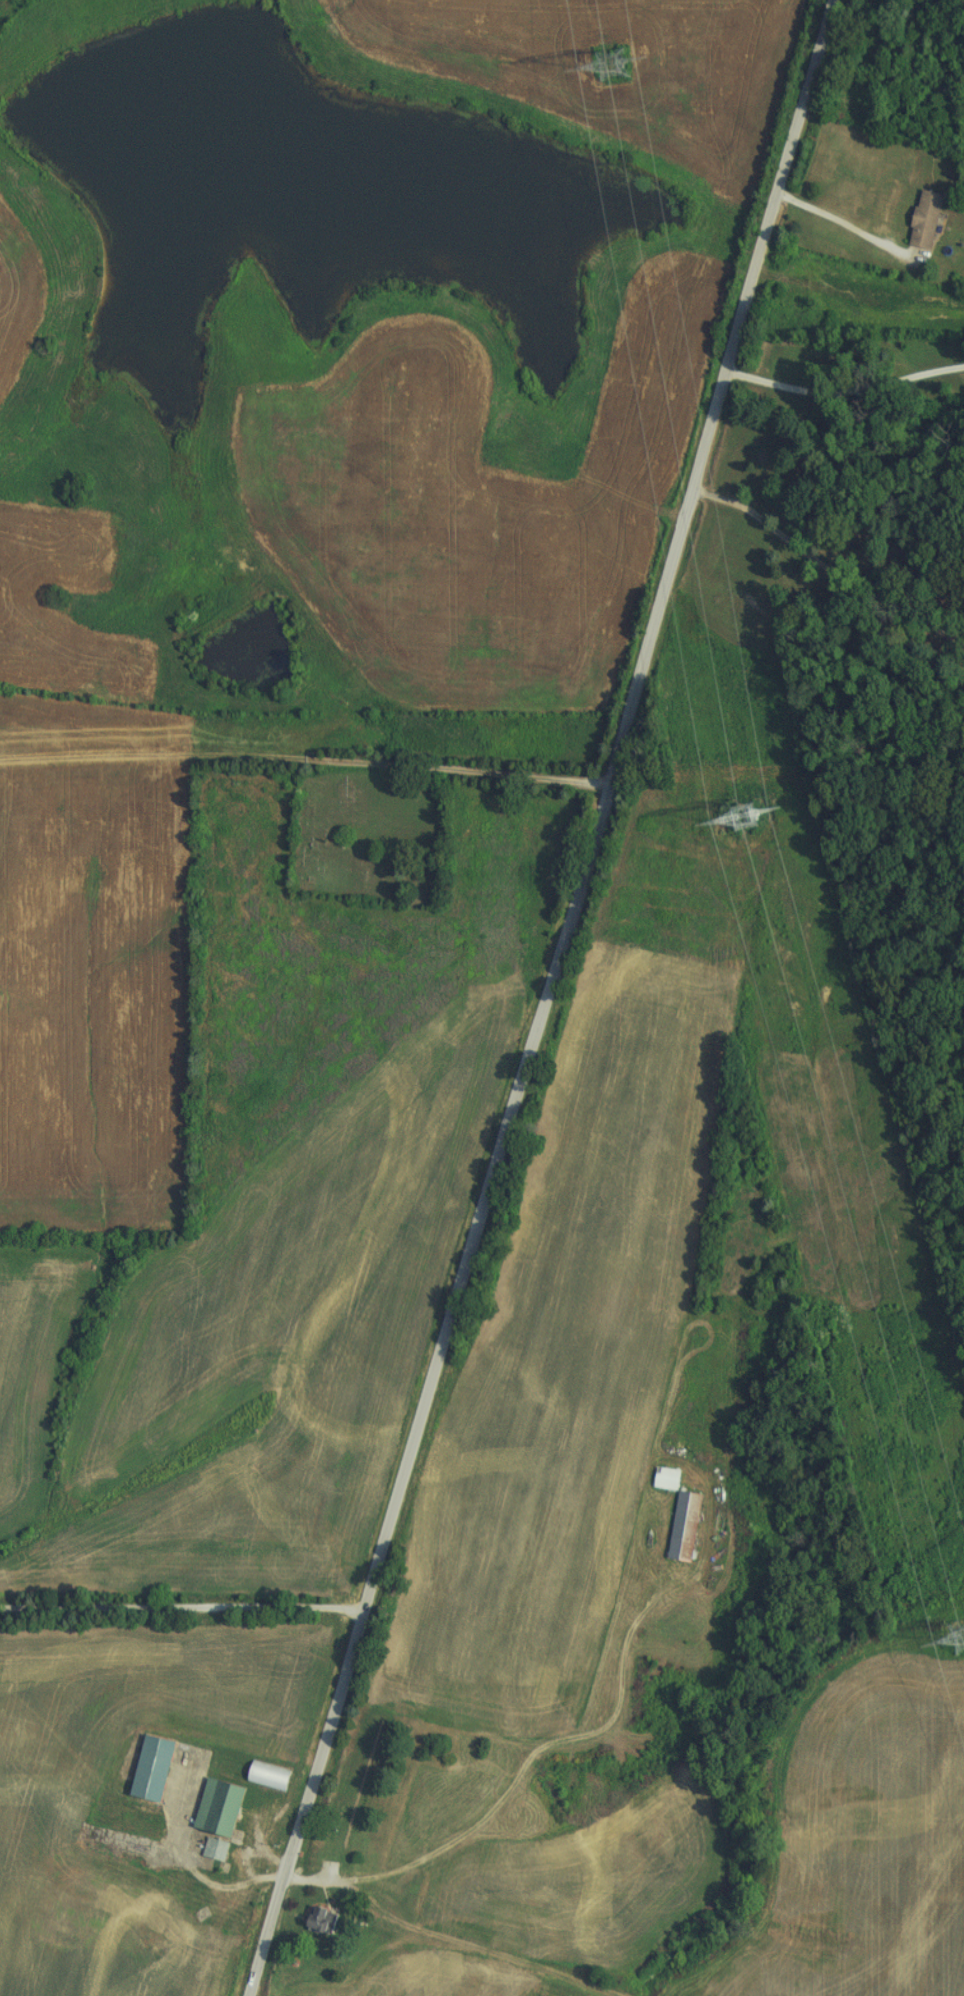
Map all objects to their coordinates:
power tower: (610, 63)
building: (923, 218)
road: (852, 221)
road: (843, 390)
road: (843, 534)
road: (304, 748)
power tower: (743, 813)
road: (547, 999)
building: (665, 1478)
building: (683, 1526)
road: (182, 1608)
power tower: (962, 1634)
building: (152, 1768)
building: (268, 1776)
road: (521, 1778)
building: (219, 1806)
building: (214, 1849)
building: (323, 1920)

